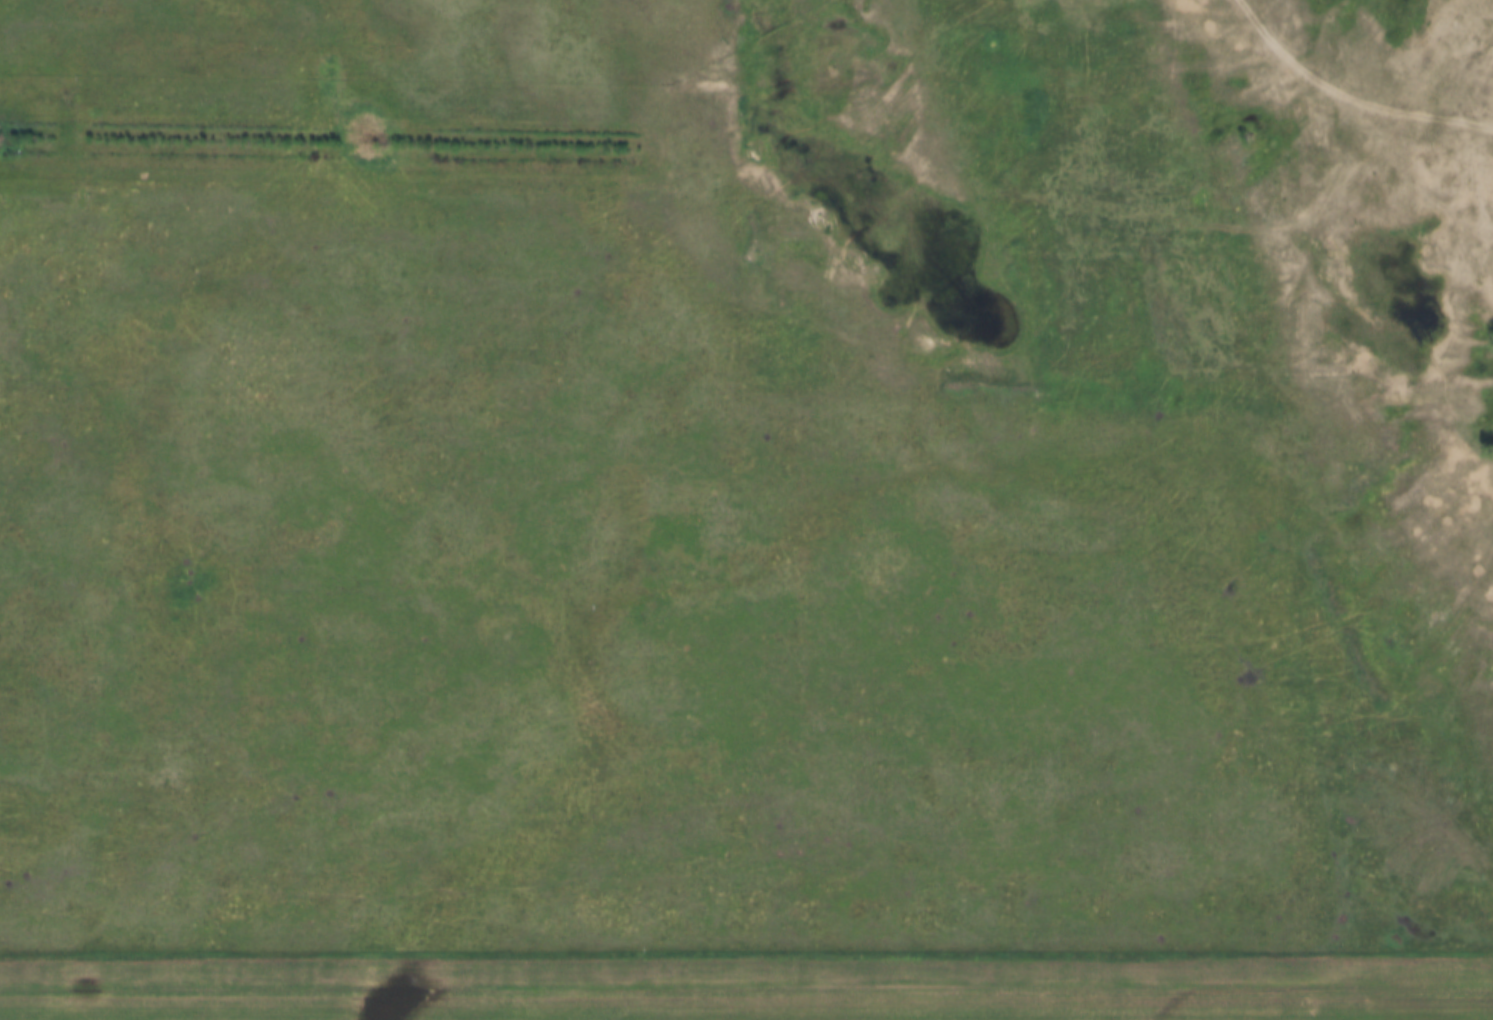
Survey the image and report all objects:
road: (1241, 8)
quarry: (1375, 290)

